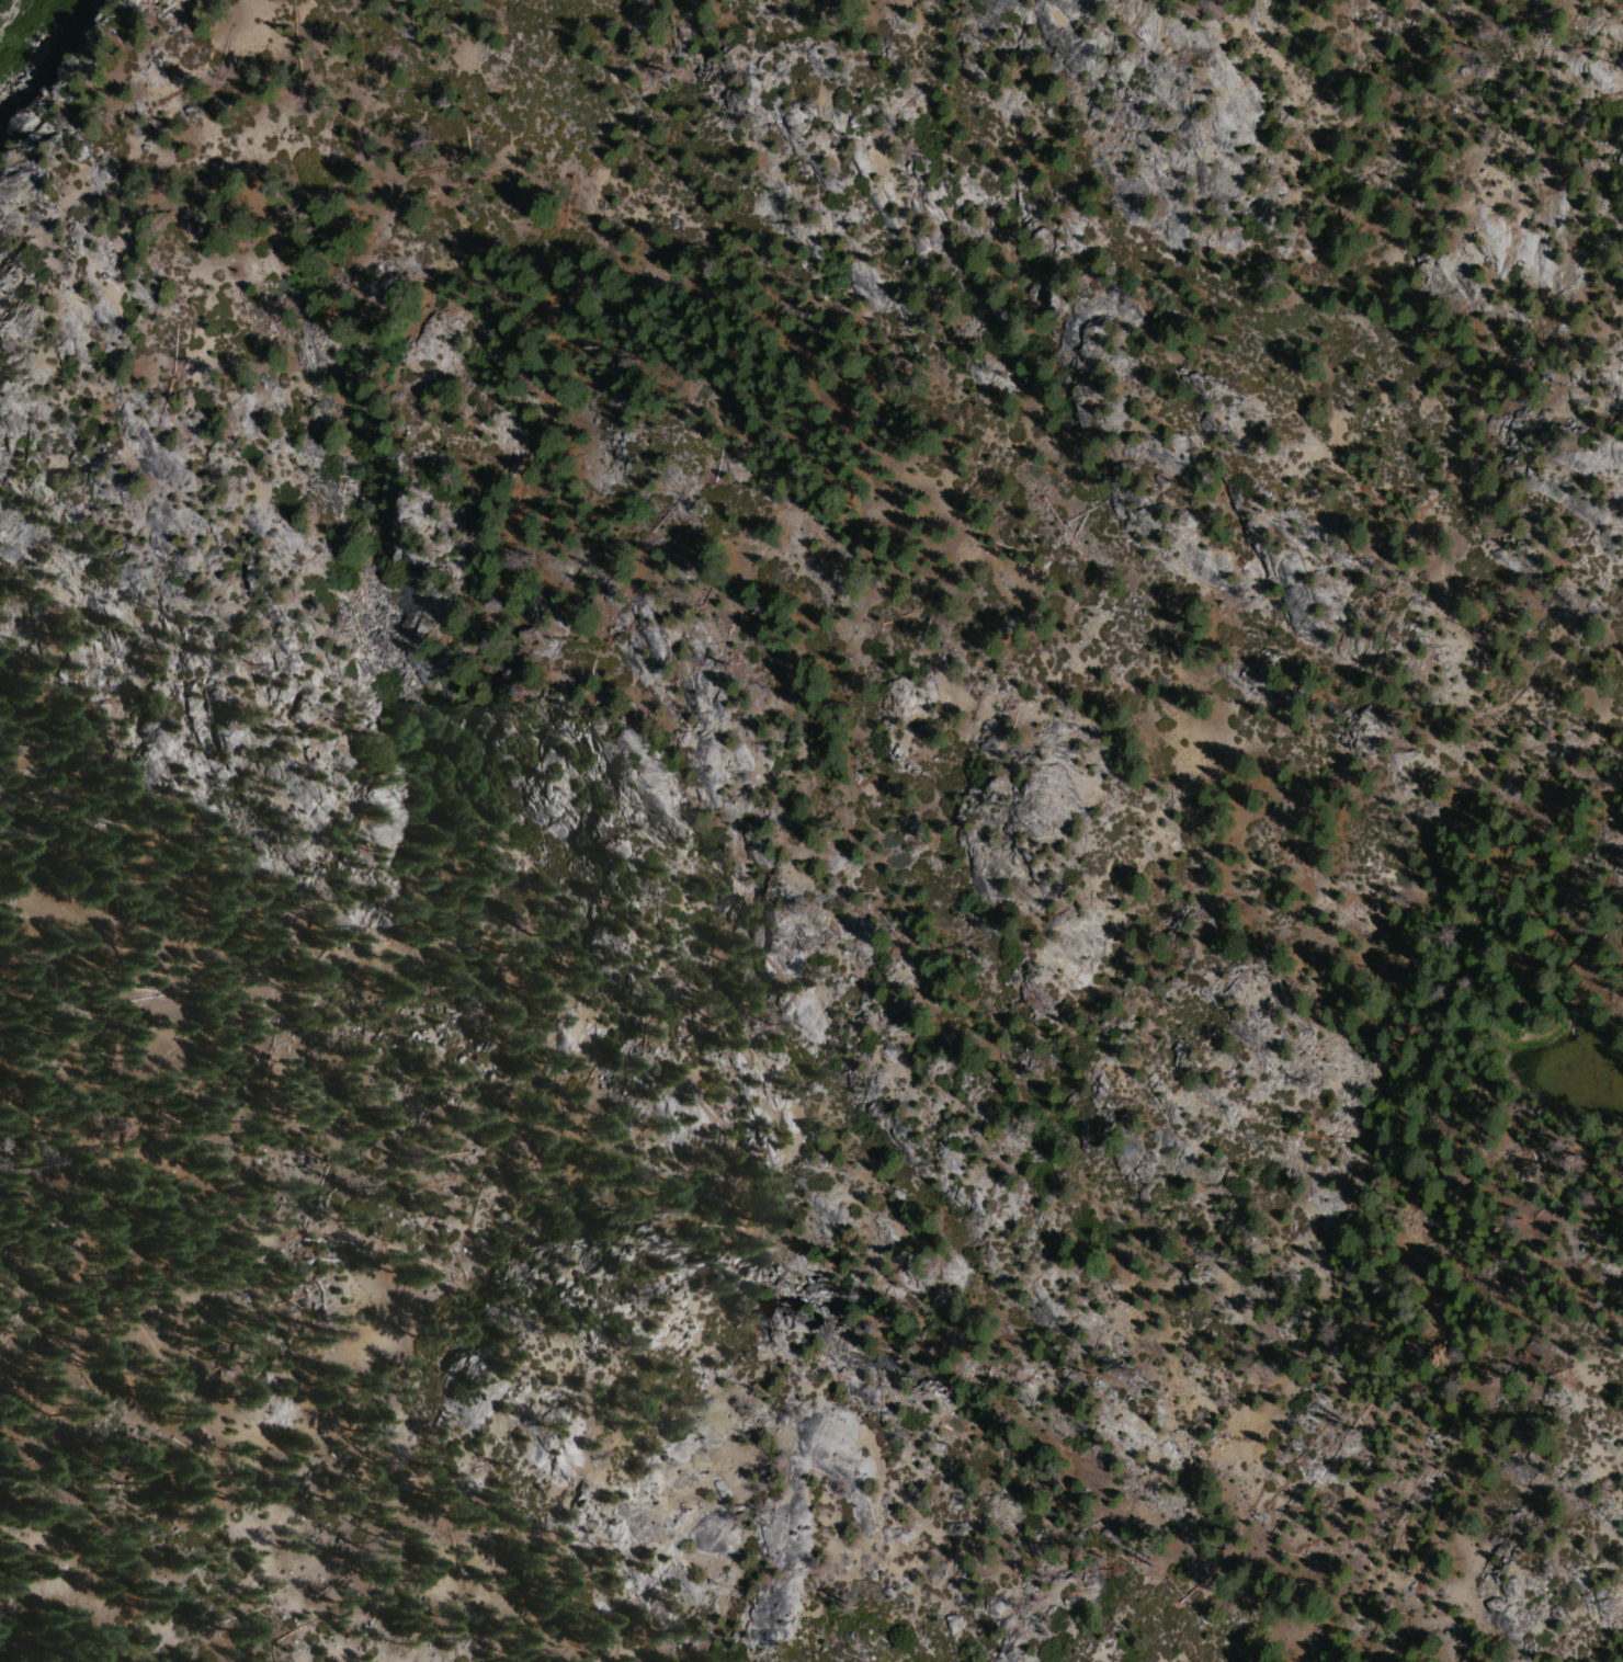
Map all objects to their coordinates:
road: (235, 1388)

